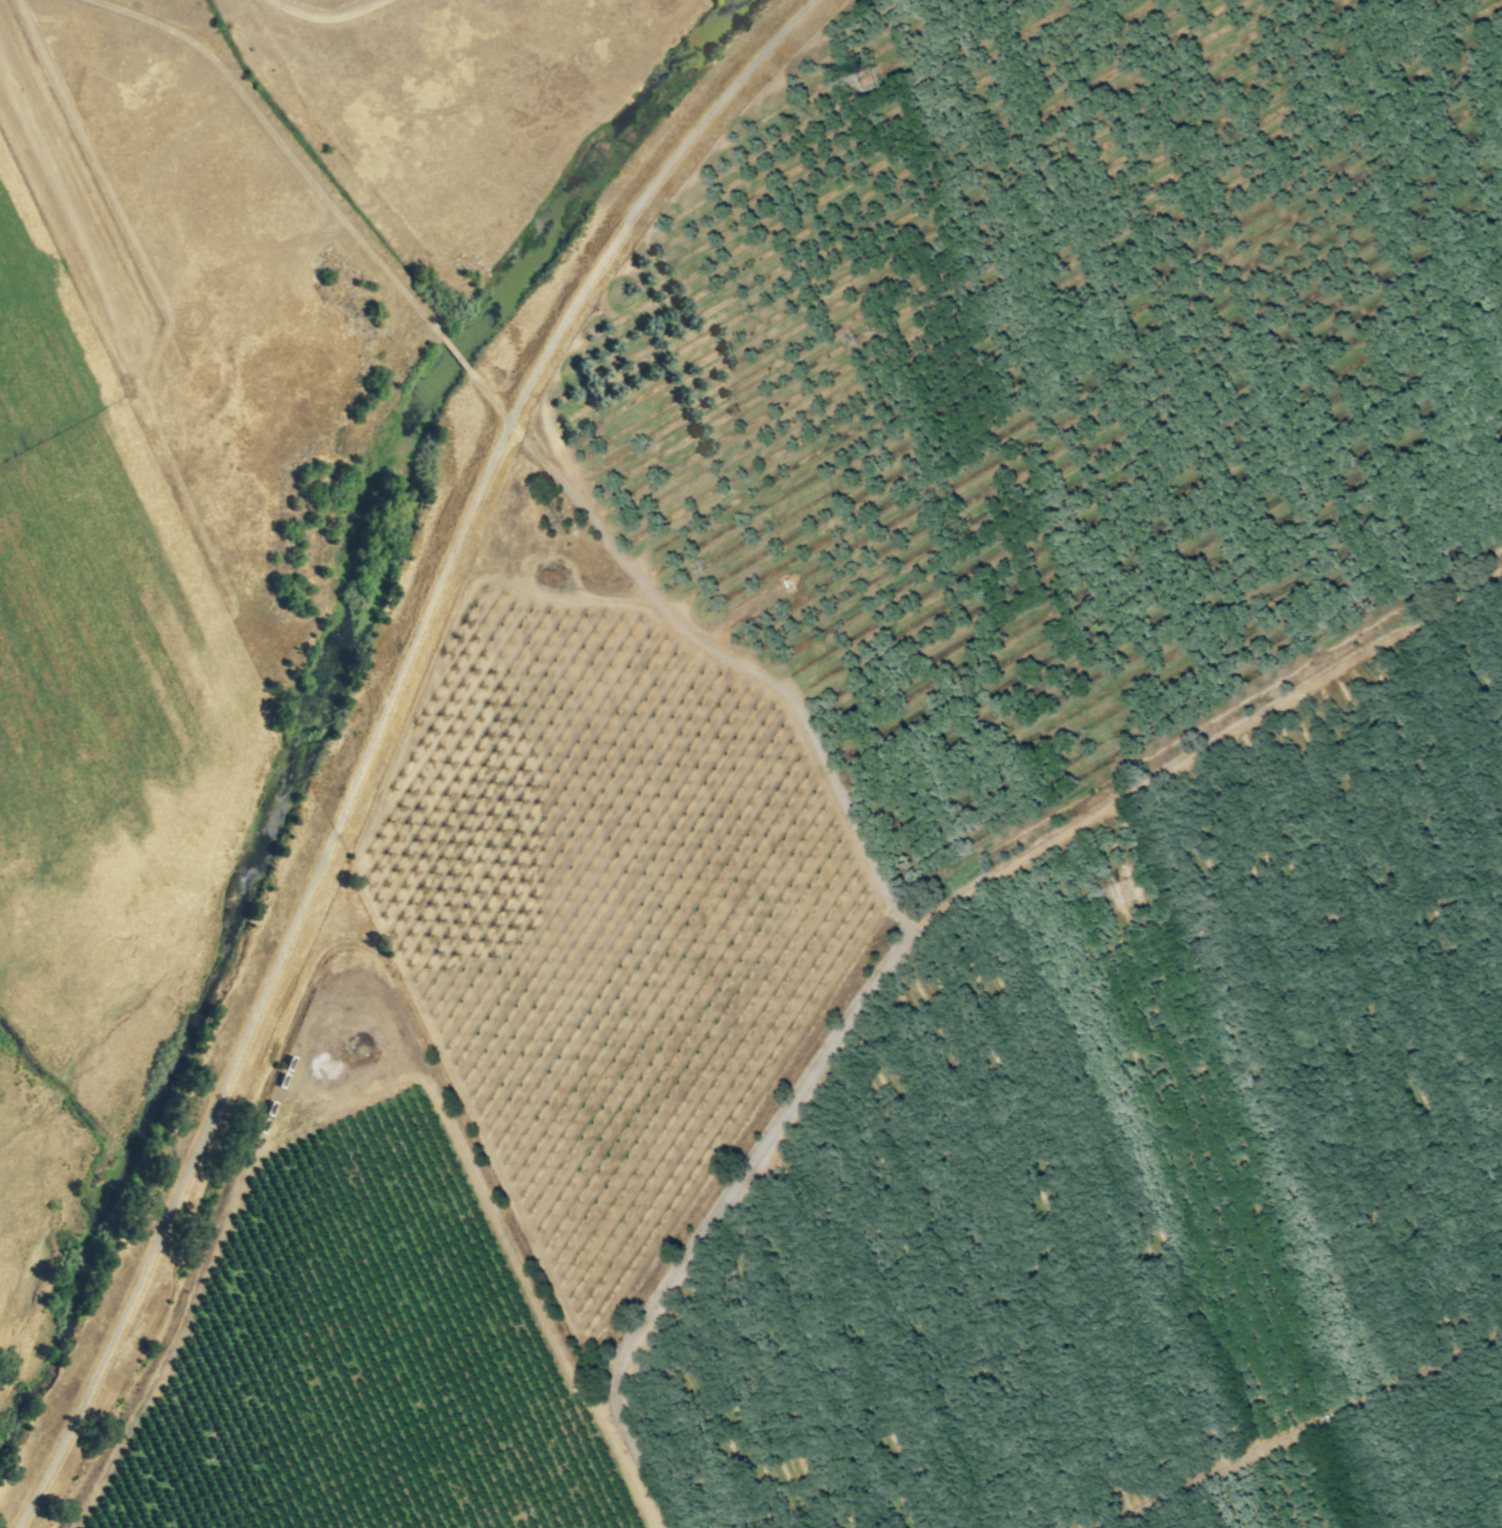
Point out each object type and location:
power tower: (871, 82)
road: (530, 439)
road: (978, 875)
power tower: (1125, 892)
road: (369, 999)

